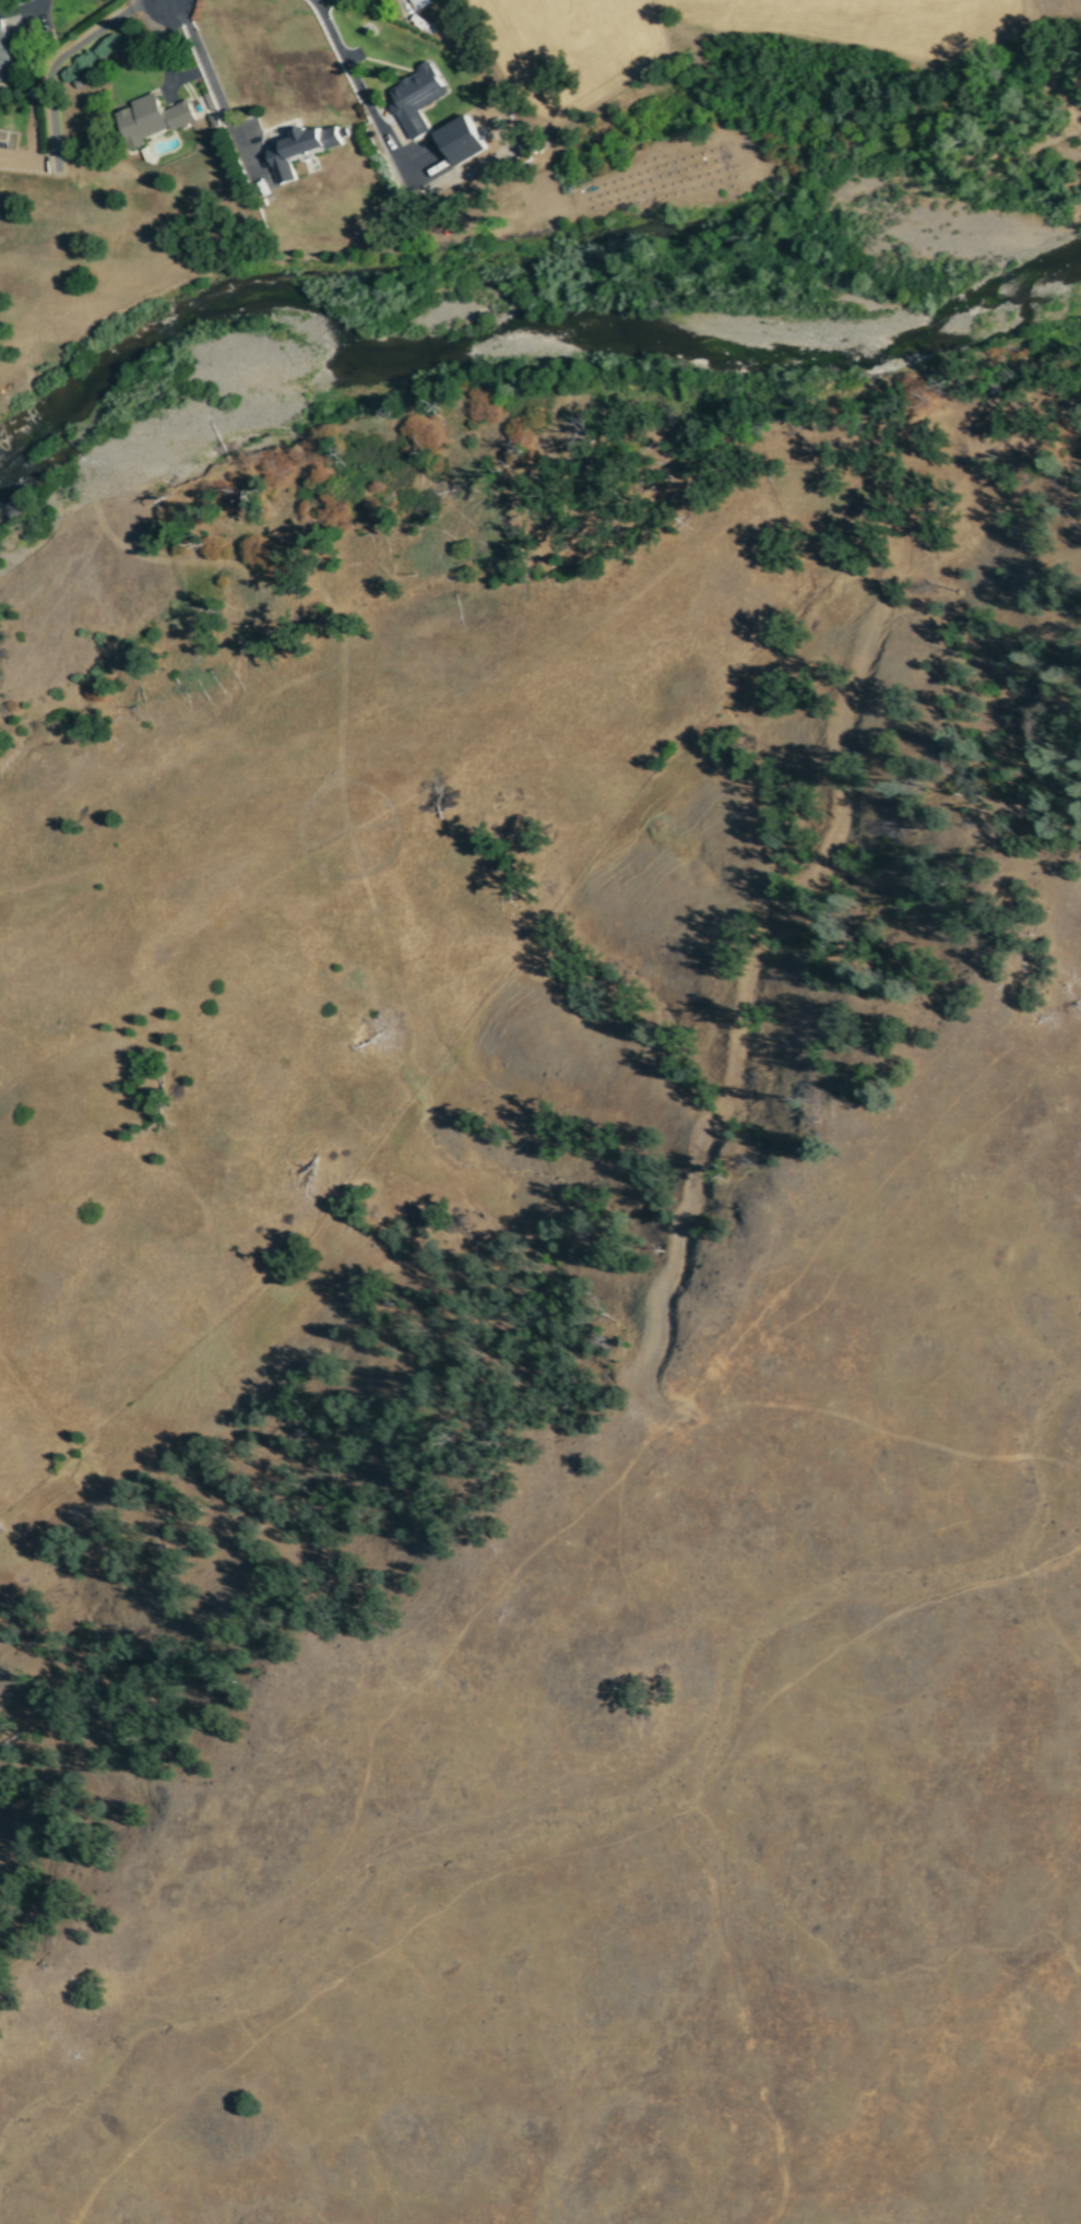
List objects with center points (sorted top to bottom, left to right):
building: (418, 2)
road: (40, 37)
building: (4, 57)
road: (49, 62)
road: (213, 86)
building: (416, 99)
road: (366, 100)
building: (161, 111)
road: (565, 116)
building: (461, 140)
building: (300, 149)
river: (507, 346)

